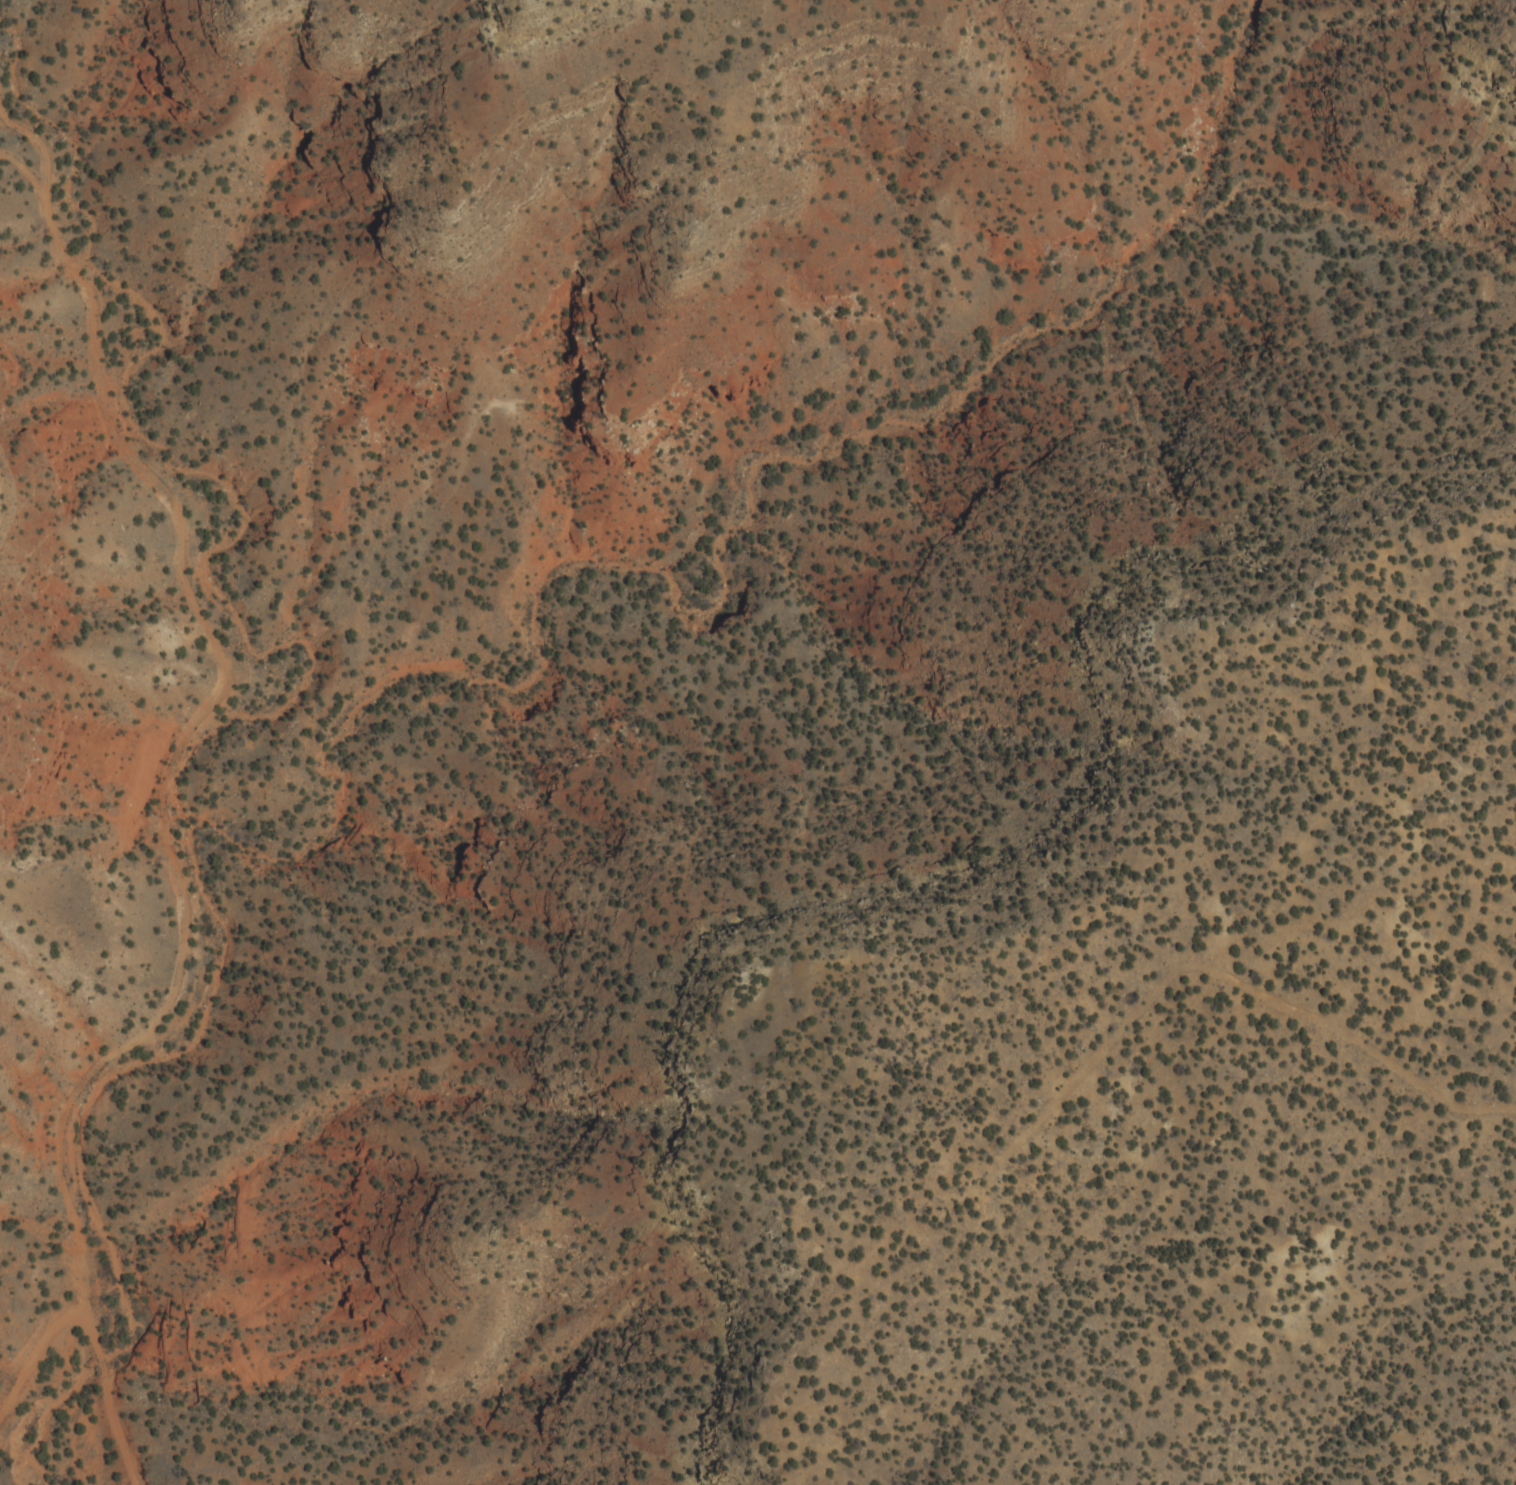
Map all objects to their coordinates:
road: (104, 1365)

